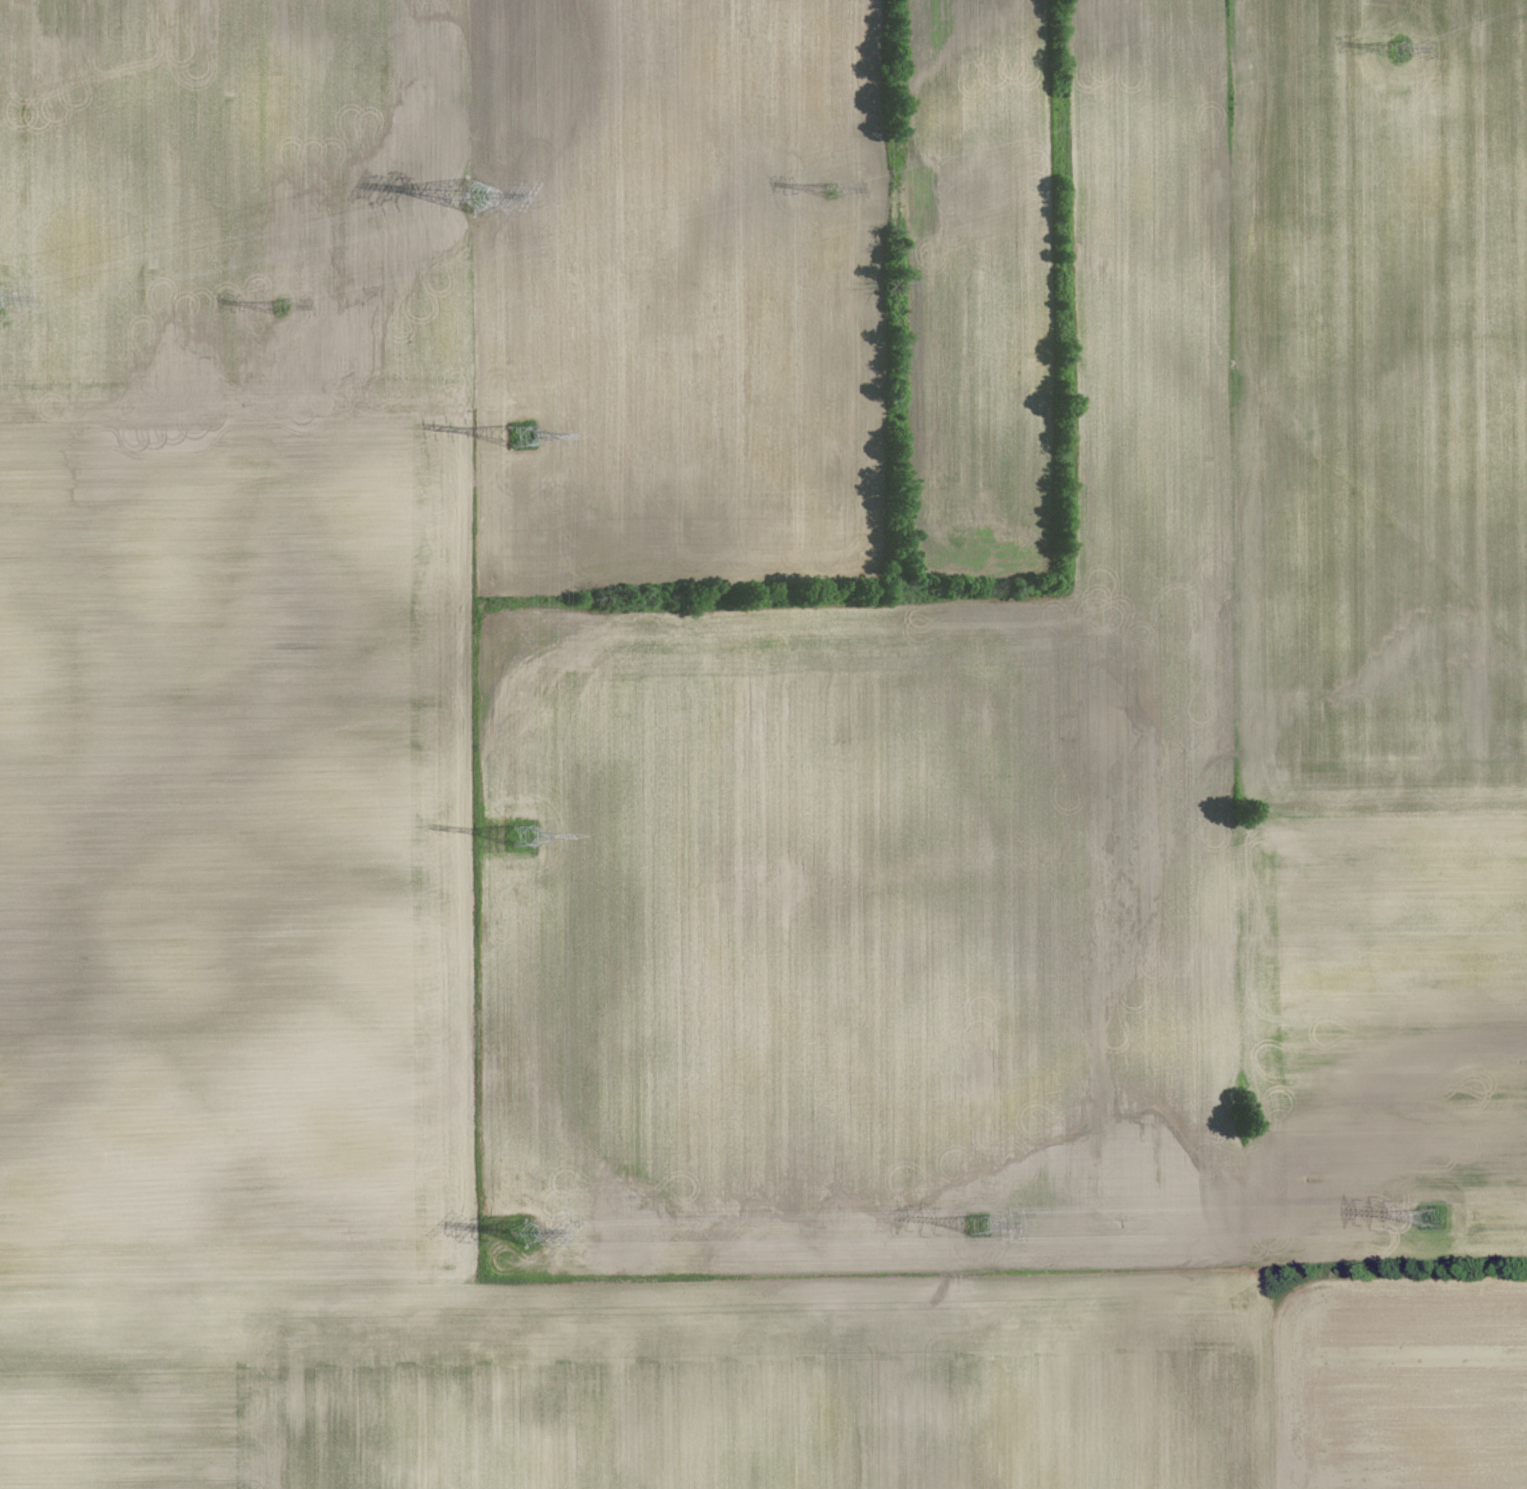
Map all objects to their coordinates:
power tower: (1398, 49)
power tower: (832, 190)
power tower: (470, 198)
power tower: (280, 308)
power tower: (520, 436)
power tower: (522, 836)
power tower: (1432, 1219)
power tower: (978, 1227)
power tower: (526, 1233)

